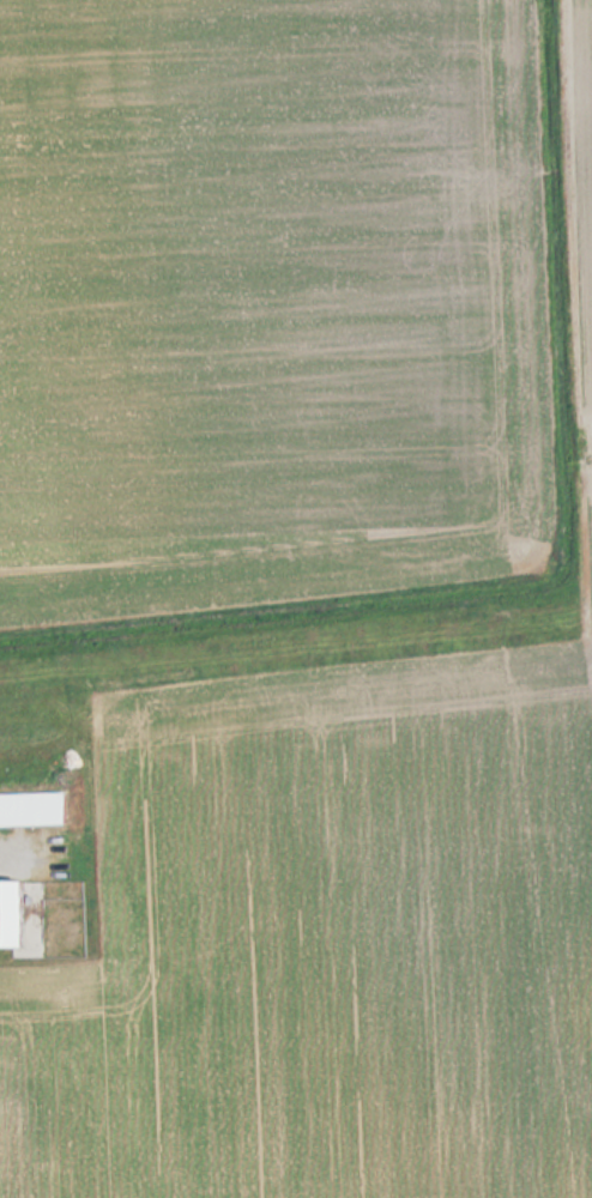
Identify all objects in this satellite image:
building: (31, 809)
building: (10, 912)

